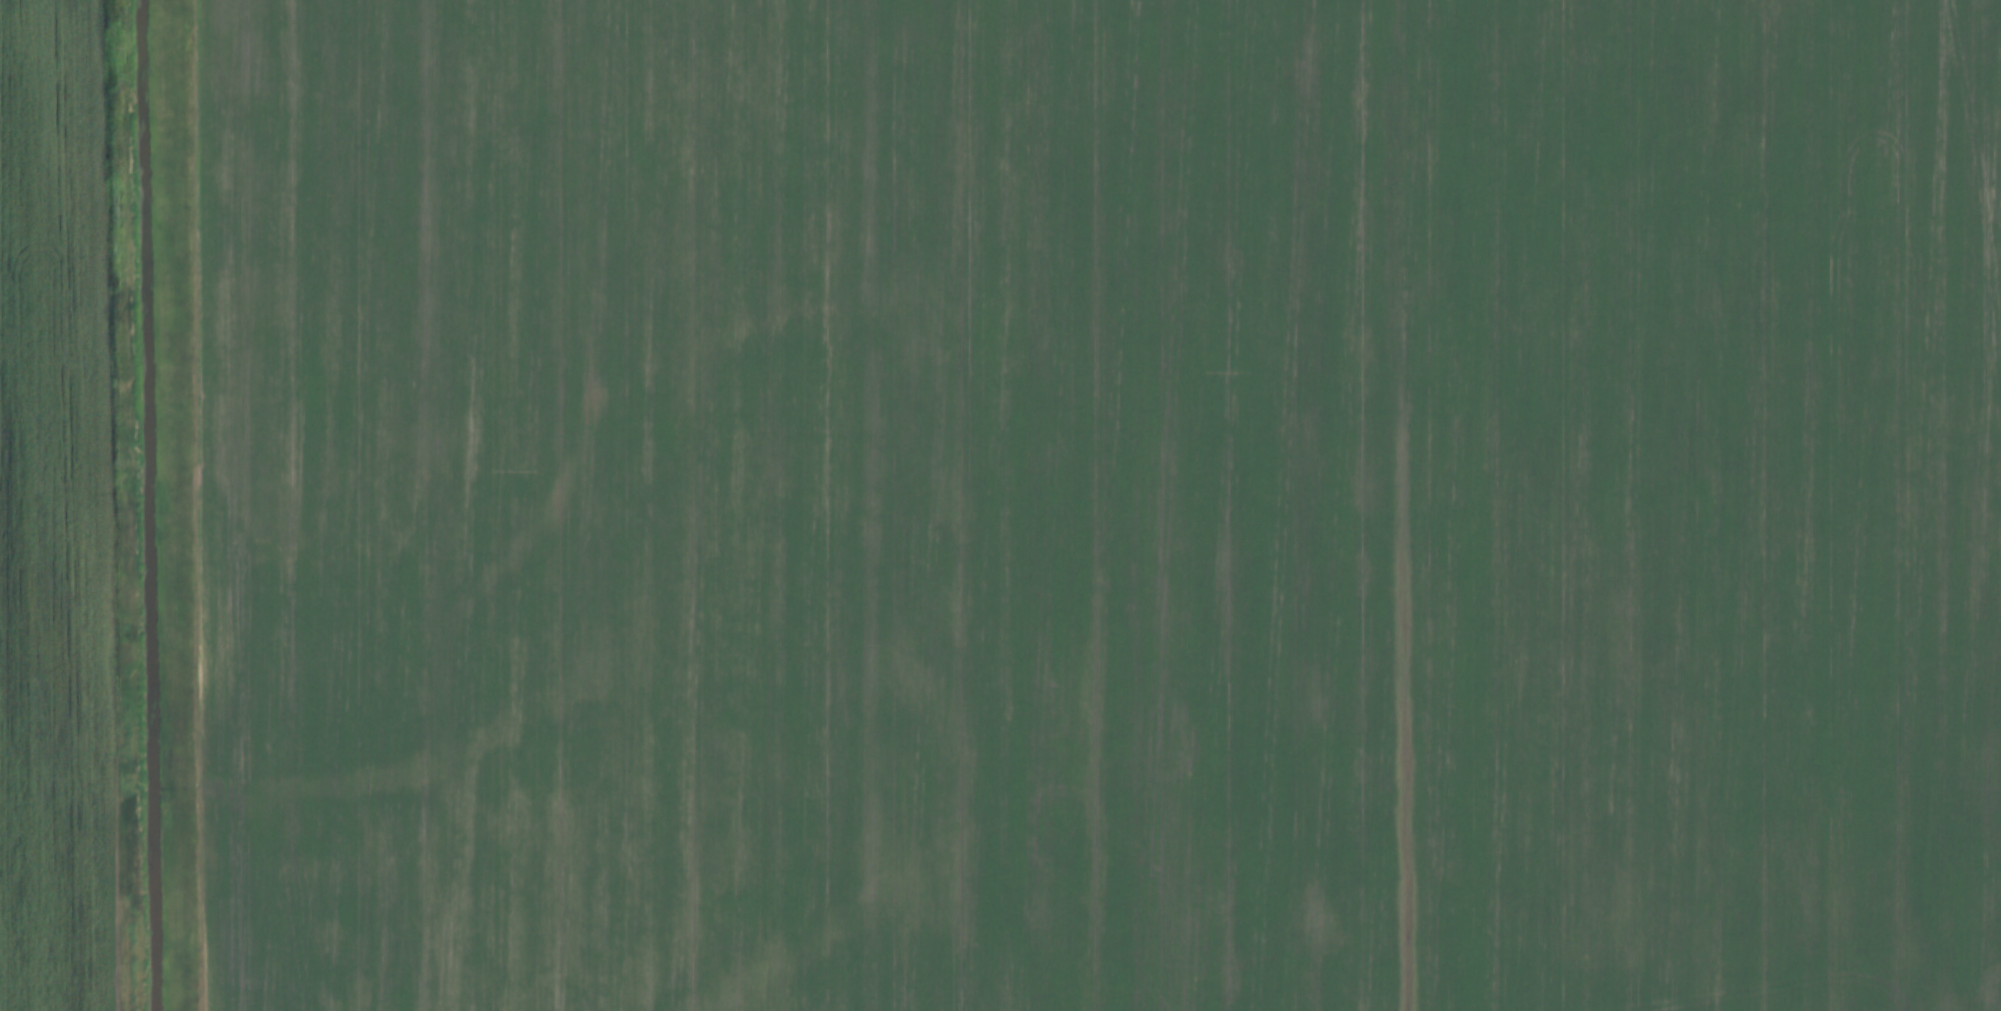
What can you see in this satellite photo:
road: (118, 505)

